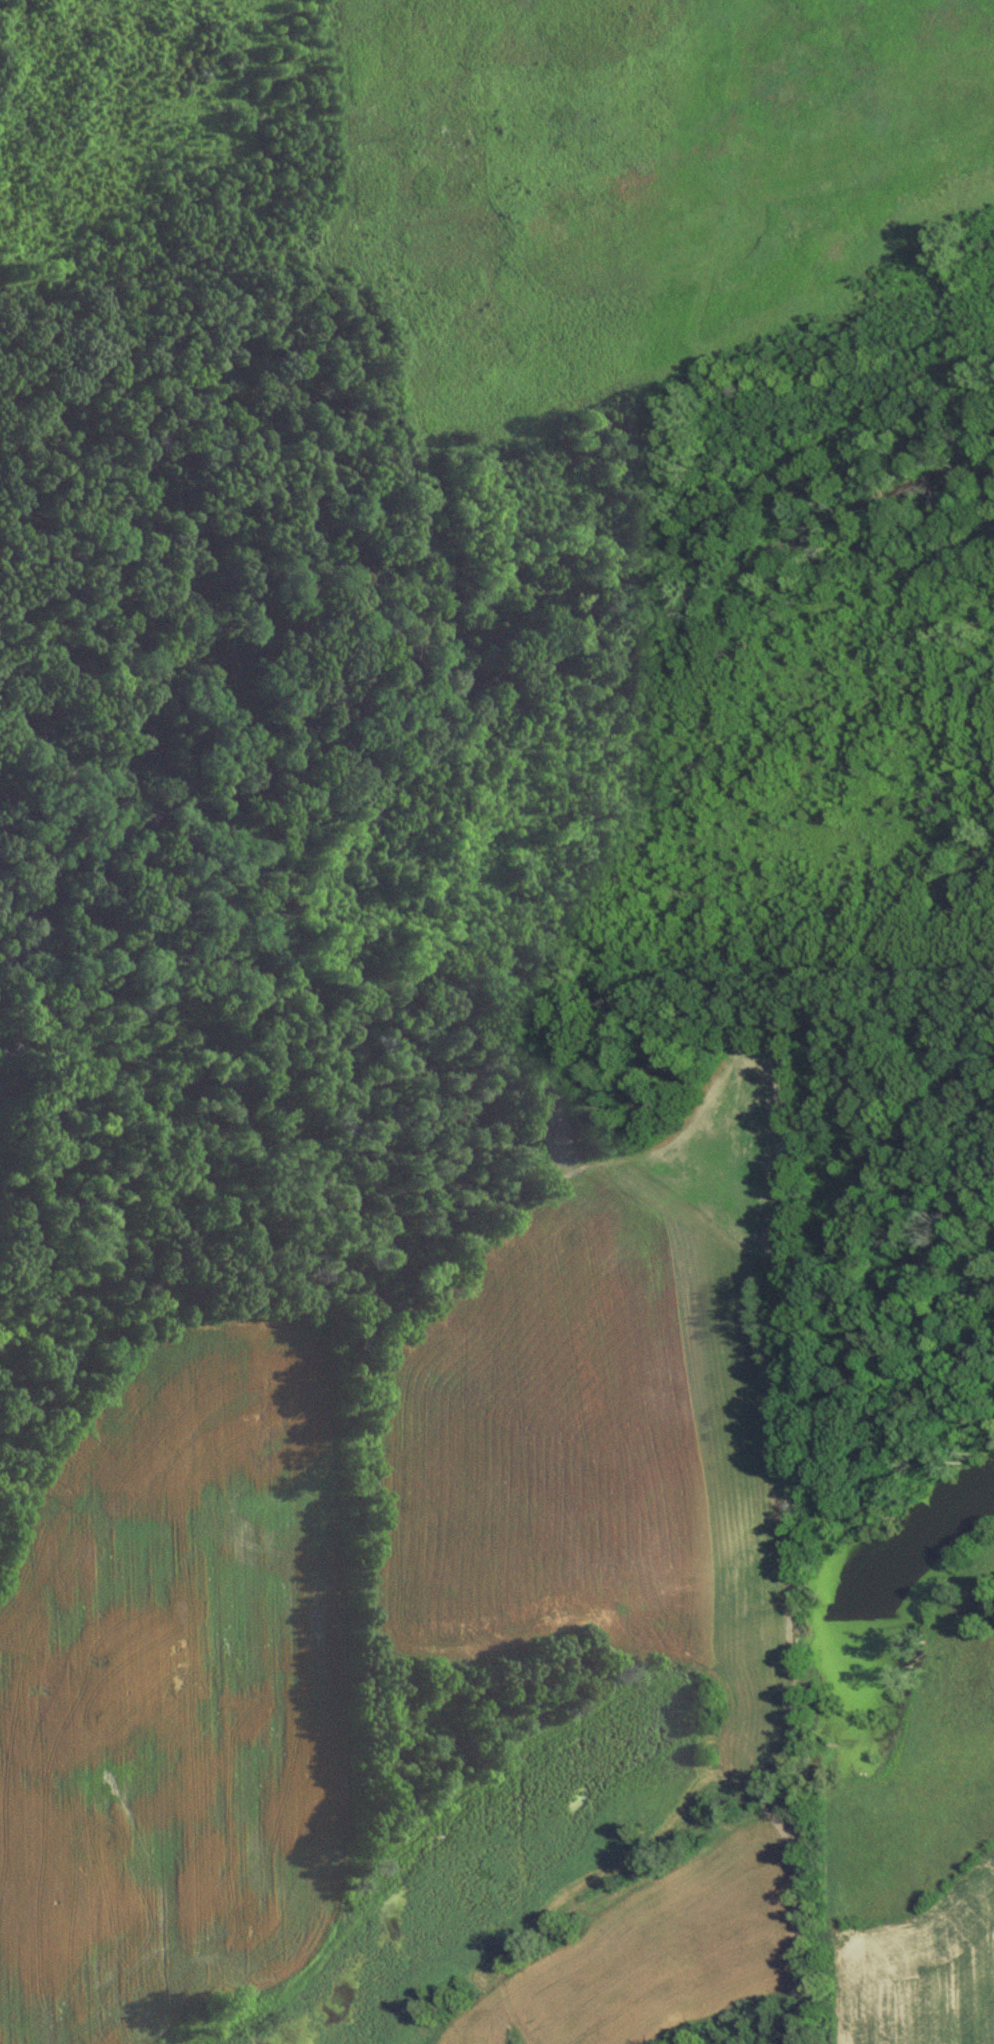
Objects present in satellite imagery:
river: (469, 691)

